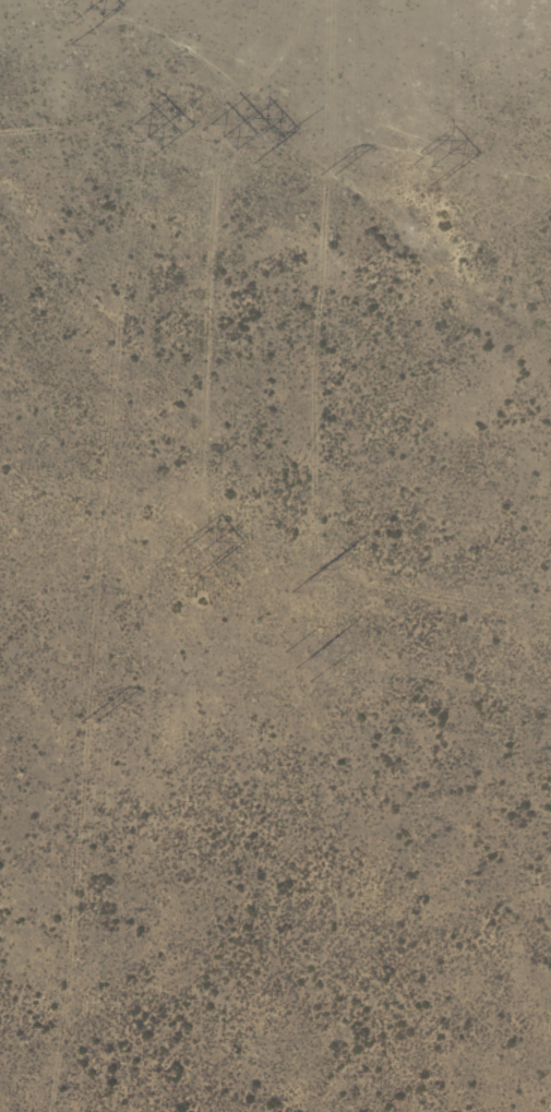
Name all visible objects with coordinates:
power tower: (79, 15)
power tower: (135, 141)
power tower: (214, 141)
power tower: (255, 142)
power tower: (431, 164)
power tower: (328, 170)
power tower: (193, 558)
power tower: (306, 578)
power tower: (308, 658)
power tower: (85, 724)

